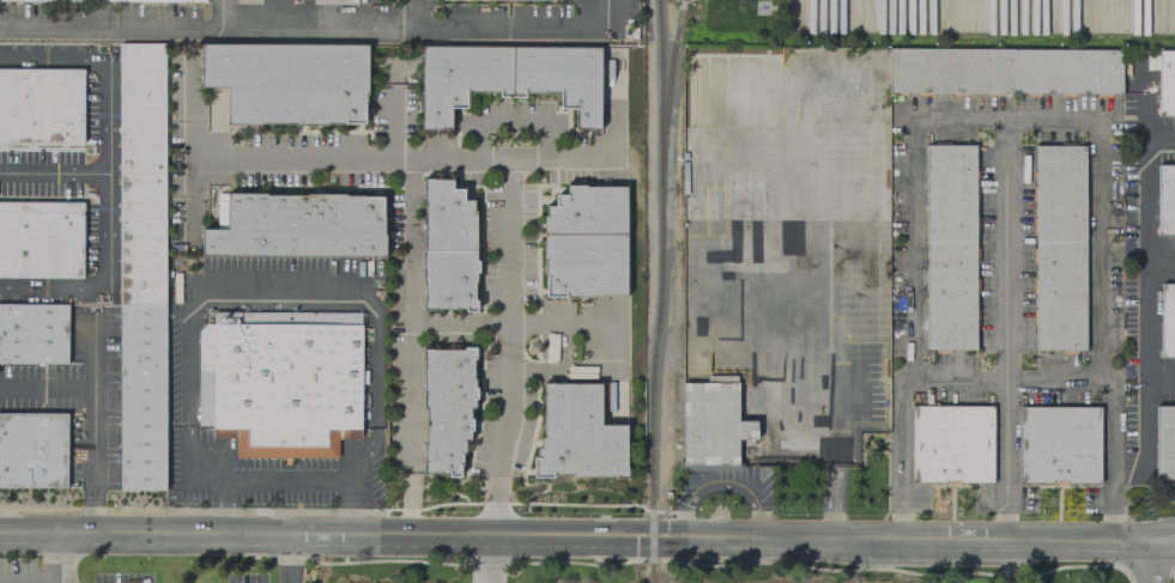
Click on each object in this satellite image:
building: (46, 0)
building: (168, 0)
building: (543, 0)
road: (413, 13)
road: (111, 26)
road: (418, 28)
road: (54, 59)
building: (1004, 71)
railway: (673, 72)
building: (461, 79)
building: (562, 79)
building: (289, 83)
building: (1165, 83)
road: (396, 104)
building: (41, 107)
road: (108, 116)
road: (1003, 119)
road: (350, 158)
road: (109, 175)
road: (189, 193)
building: (1165, 199)
building: (587, 212)
building: (447, 218)
building: (299, 226)
building: (41, 239)
building: (949, 247)
building: (1059, 247)
road: (1003, 250)
road: (1161, 256)
building: (585, 266)
building: (140, 268)
building: (450, 280)
road: (54, 286)
railway: (659, 291)
road: (1145, 292)
road: (412, 317)
road: (508, 320)
building: (1168, 320)
road: (505, 324)
building: (32, 334)
road: (555, 368)
road: (188, 377)
building: (279, 378)
road: (1159, 379)
road: (47, 383)
road: (951, 383)
road: (377, 390)
building: (447, 408)
road: (1108, 412)
road: (95, 425)
building: (711, 426)
building: (577, 436)
building: (1164, 442)
building: (951, 444)
building: (1059, 444)
building: (32, 449)
road: (720, 479)
road: (831, 490)
road: (408, 508)
road: (358, 509)
road: (495, 510)
road: (575, 542)
road: (1163, 546)
road: (53, 559)
road: (292, 560)
road: (493, 561)
road: (1011, 564)
road: (1152, 564)
road: (57, 578)
road: (26, 581)

